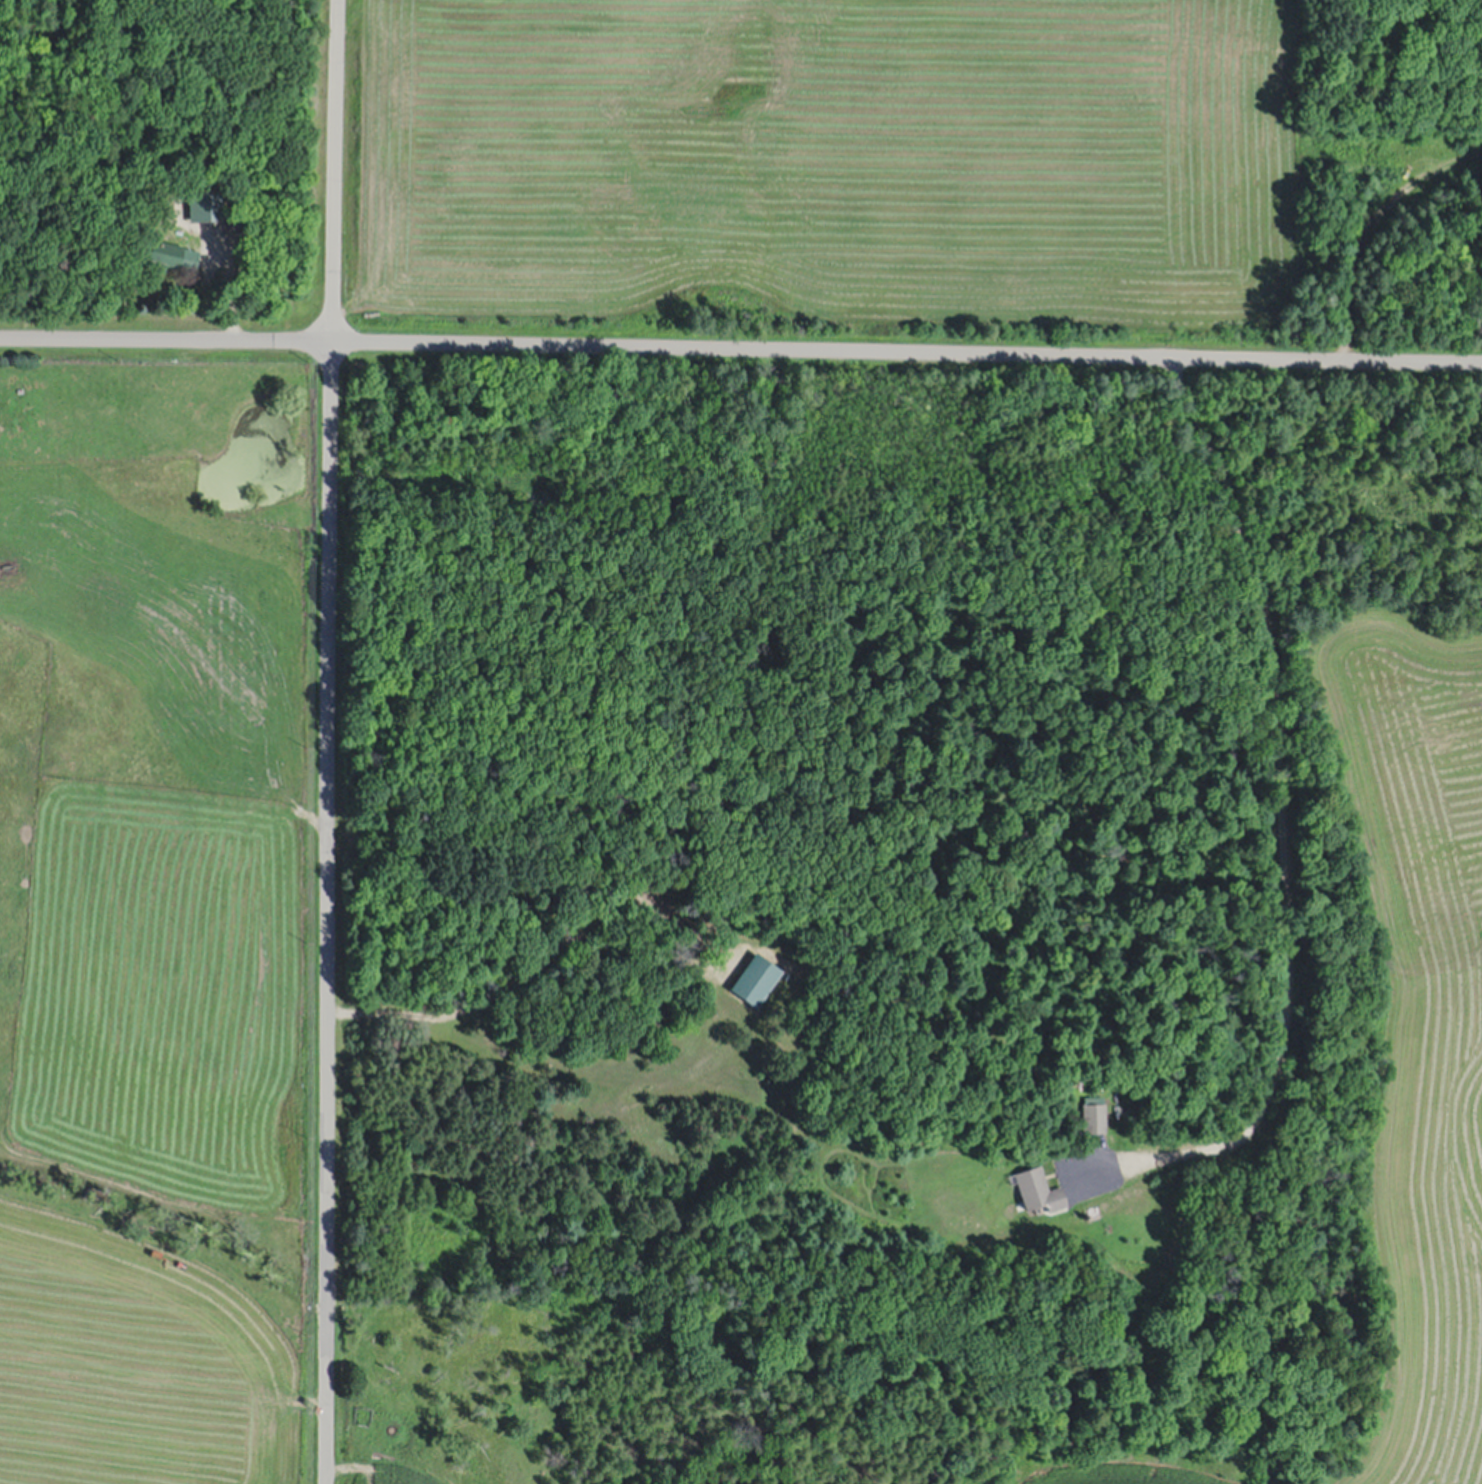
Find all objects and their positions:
building: (241, 214)
building: (170, 253)
road: (741, 344)
road: (330, 741)
building: (758, 977)
building: (1130, 1072)
building: (1095, 1115)
building: (1040, 1187)

